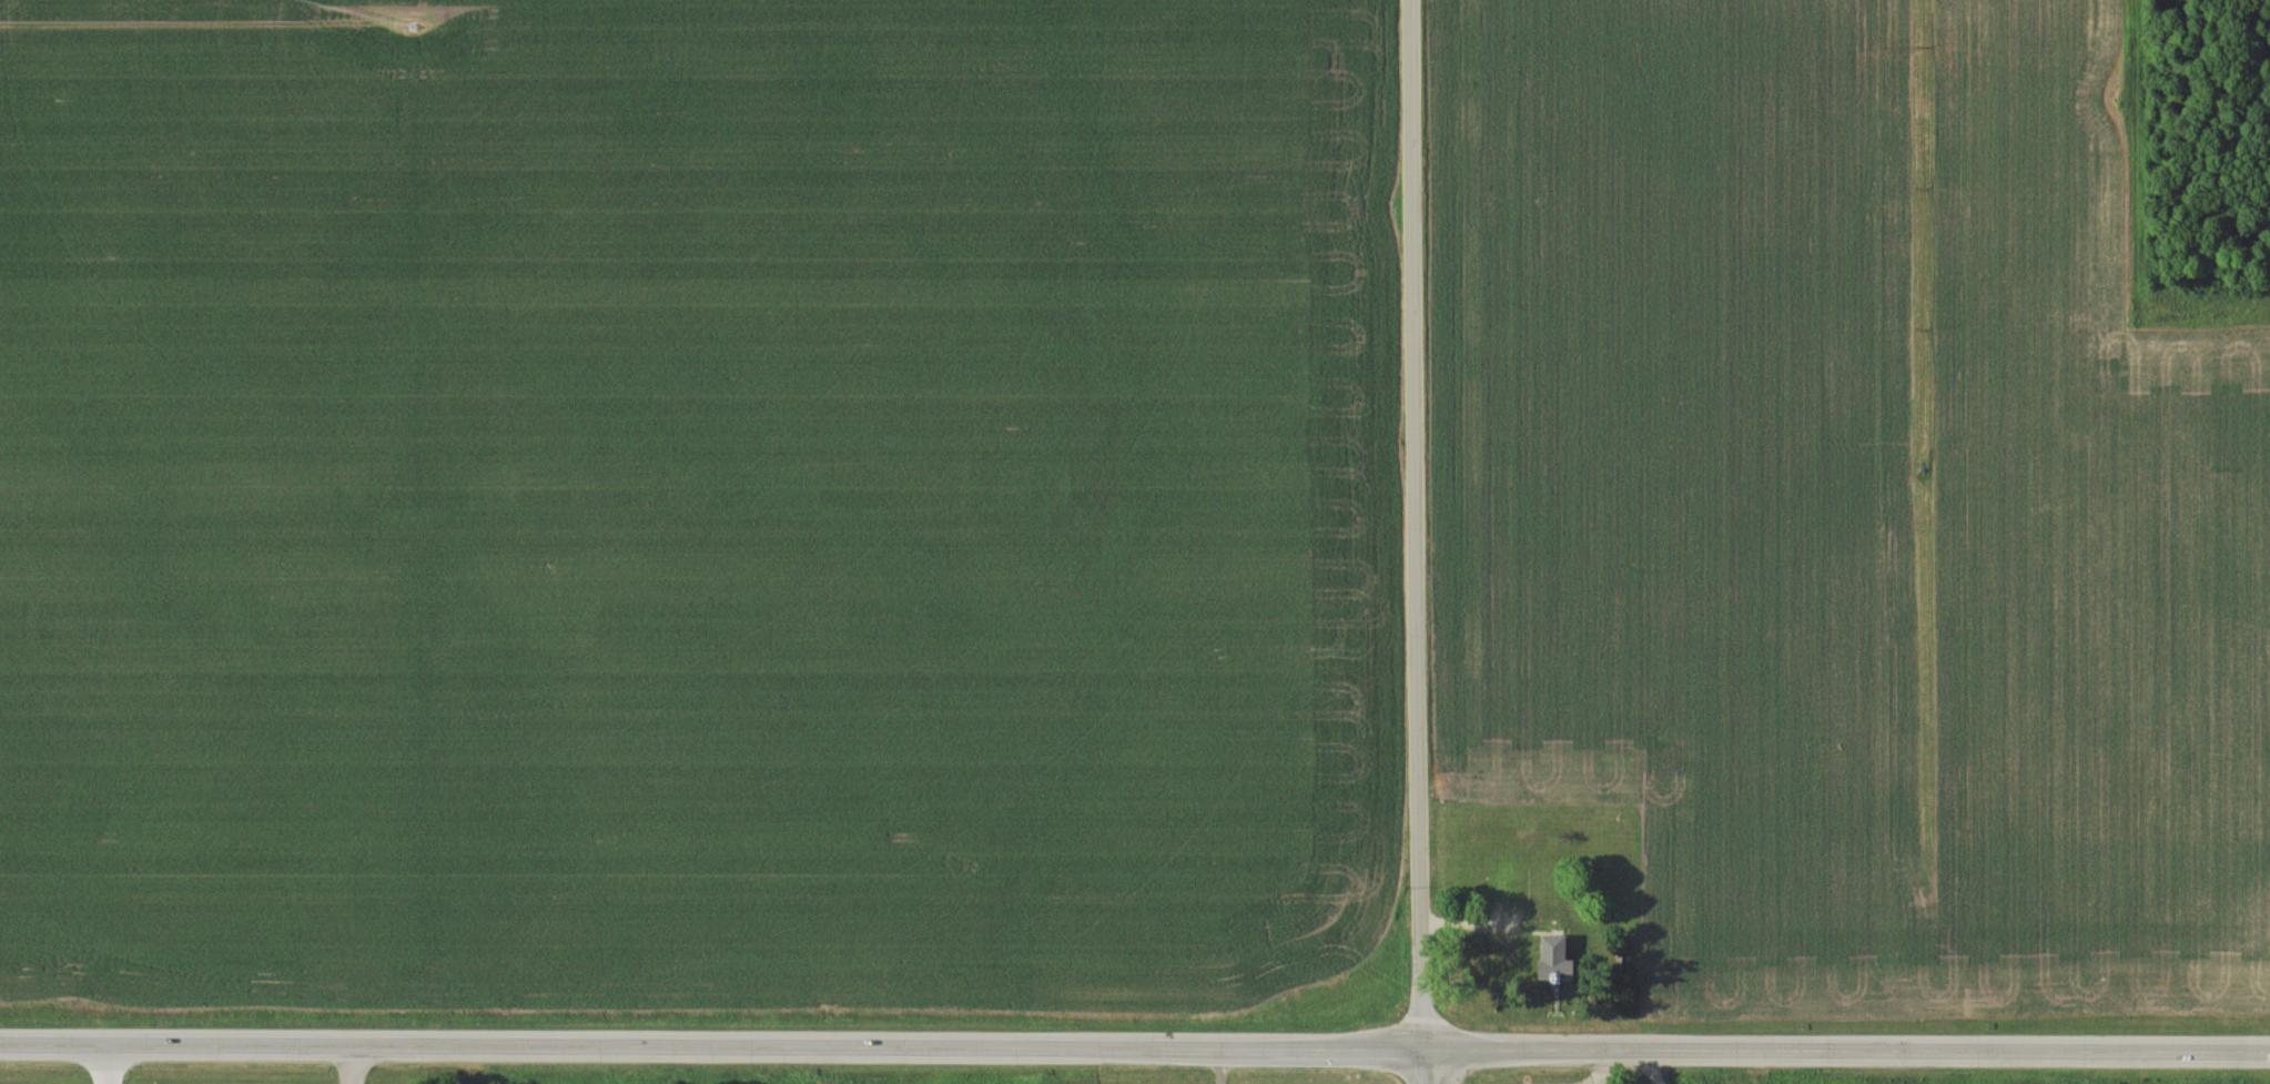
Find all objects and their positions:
road: (1419, 523)
building: (1553, 961)
road: (1135, 1046)
road: (104, 1065)
road: (354, 1065)
road: (1425, 1065)

